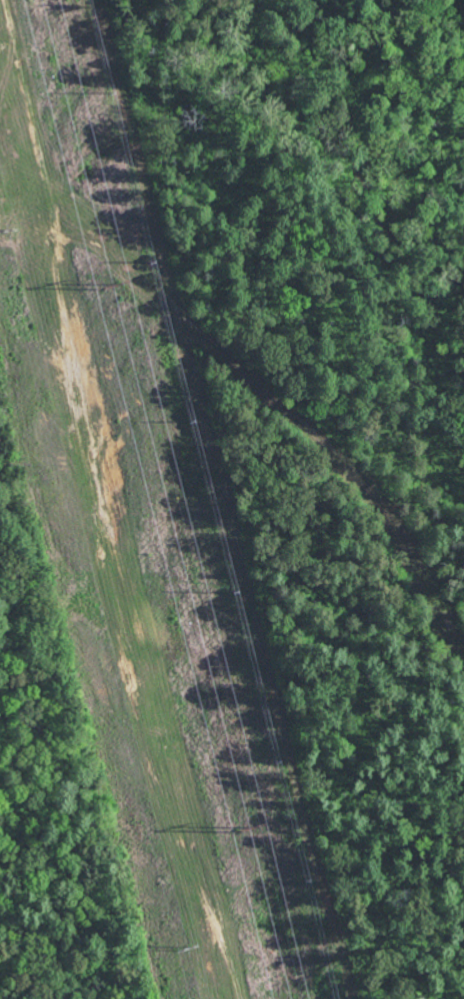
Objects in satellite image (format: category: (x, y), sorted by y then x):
power tower: (7, 231)
power tower: (106, 284)
power tower: (241, 824)
power tower: (187, 949)

